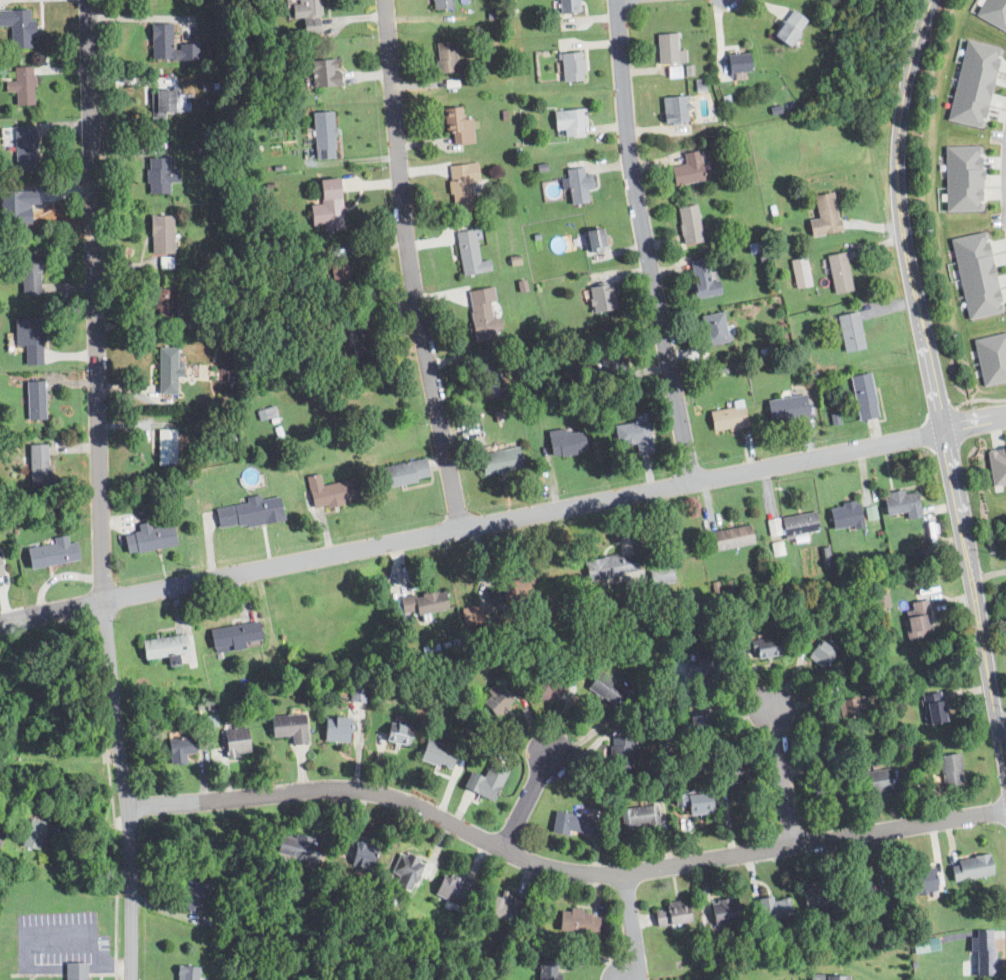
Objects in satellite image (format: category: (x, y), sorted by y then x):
building: (441, 4)
building: (568, 6)
building: (305, 13)
building: (994, 13)
building: (17, 27)
building: (788, 27)
building: (168, 45)
building: (666, 48)
building: (444, 56)
building: (736, 63)
building: (571, 66)
building: (323, 72)
building: (673, 72)
building: (974, 84)
building: (21, 85)
building: (162, 101)
building: (674, 109)
building: (569, 121)
building: (456, 125)
building: (323, 135)
building: (23, 149)
building: (687, 169)
building: (159, 176)
building: (964, 177)
building: (577, 185)
building: (461, 186)
building: (326, 205)
road: (898, 215)
building: (824, 216)
building: (689, 224)
building: (160, 234)
building: (593, 240)
road: (644, 241)
building: (469, 254)
road: (405, 266)
building: (799, 272)
building: (838, 273)
building: (29, 274)
building: (338, 274)
building: (976, 274)
building: (702, 280)
building: (601, 298)
building: (164, 301)
building: (482, 314)
building: (712, 329)
building: (849, 332)
building: (32, 342)
building: (351, 345)
building: (991, 357)
building: (614, 365)
building: (167, 371)
building: (490, 382)
building: (862, 396)
building: (34, 401)
building: (787, 408)
building: (266, 412)
building: (727, 418)
building: (634, 435)
building: (565, 442)
building: (165, 447)
building: (499, 460)
building: (997, 463)
building: (37, 465)
building: (402, 473)
road: (100, 490)
building: (328, 492)
building: (902, 504)
building: (248, 513)
building: (869, 513)
building: (845, 516)
road: (503, 520)
building: (799, 524)
building: (773, 526)
building: (148, 538)
building: (729, 538)
building: (51, 554)
building: (610, 565)
building: (0, 572)
road: (986, 574)
building: (504, 588)
building: (422, 603)
building: (470, 615)
building: (917, 620)
road: (46, 622)
road: (975, 623)
building: (233, 636)
building: (162, 645)
building: (765, 647)
building: (820, 653)
building: (702, 662)
building: (550, 686)
building: (605, 687)
building: (358, 693)
building: (495, 700)
building: (848, 705)
building: (932, 707)
road: (999, 717)
building: (698, 725)
building: (287, 726)
building: (336, 729)
building: (397, 733)
building: (235, 741)
building: (178, 749)
building: (621, 752)
building: (436, 753)
building: (949, 769)
building: (737, 772)
road: (780, 779)
building: (485, 780)
building: (874, 781)
building: (825, 787)
road: (525, 802)
building: (693, 802)
building: (638, 816)
road: (1005, 817)
building: (568, 822)
road: (103, 827)
building: (31, 833)
building: (1, 834)
building: (296, 846)
road: (91, 849)
building: (363, 854)
building: (970, 867)
building: (406, 872)
road: (558, 873)
building: (921, 880)
building: (860, 887)
building: (453, 889)
building: (189, 895)
building: (818, 897)
building: (503, 905)
building: (774, 907)
building: (724, 910)
building: (670, 913)
building: (578, 920)
road: (627, 926)
road: (85, 938)
building: (924, 945)
building: (985, 953)
building: (549, 970)
building: (75, 971)
building: (187, 973)
building: (836, 977)

